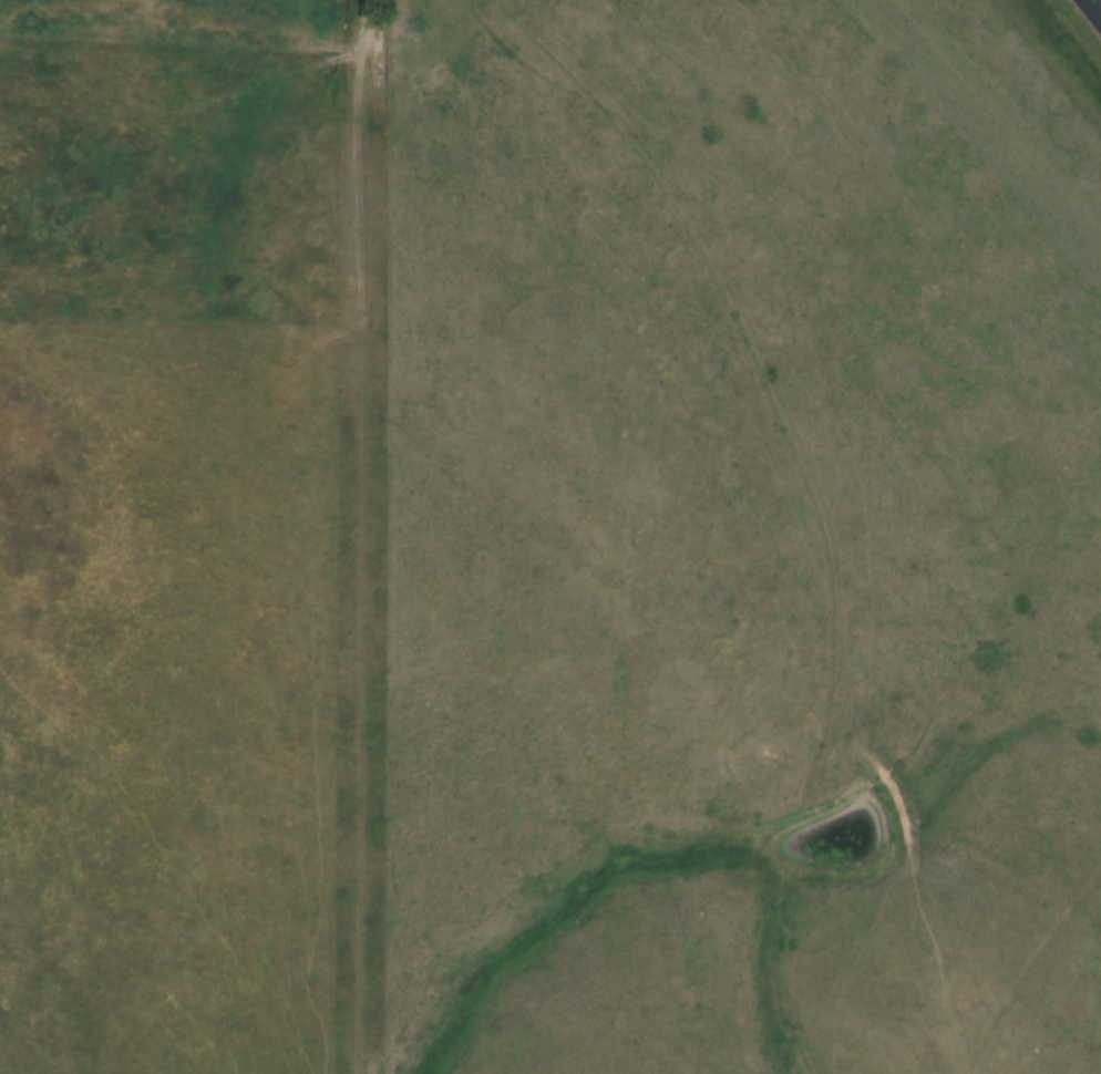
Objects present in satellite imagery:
road: (1093, 8)

